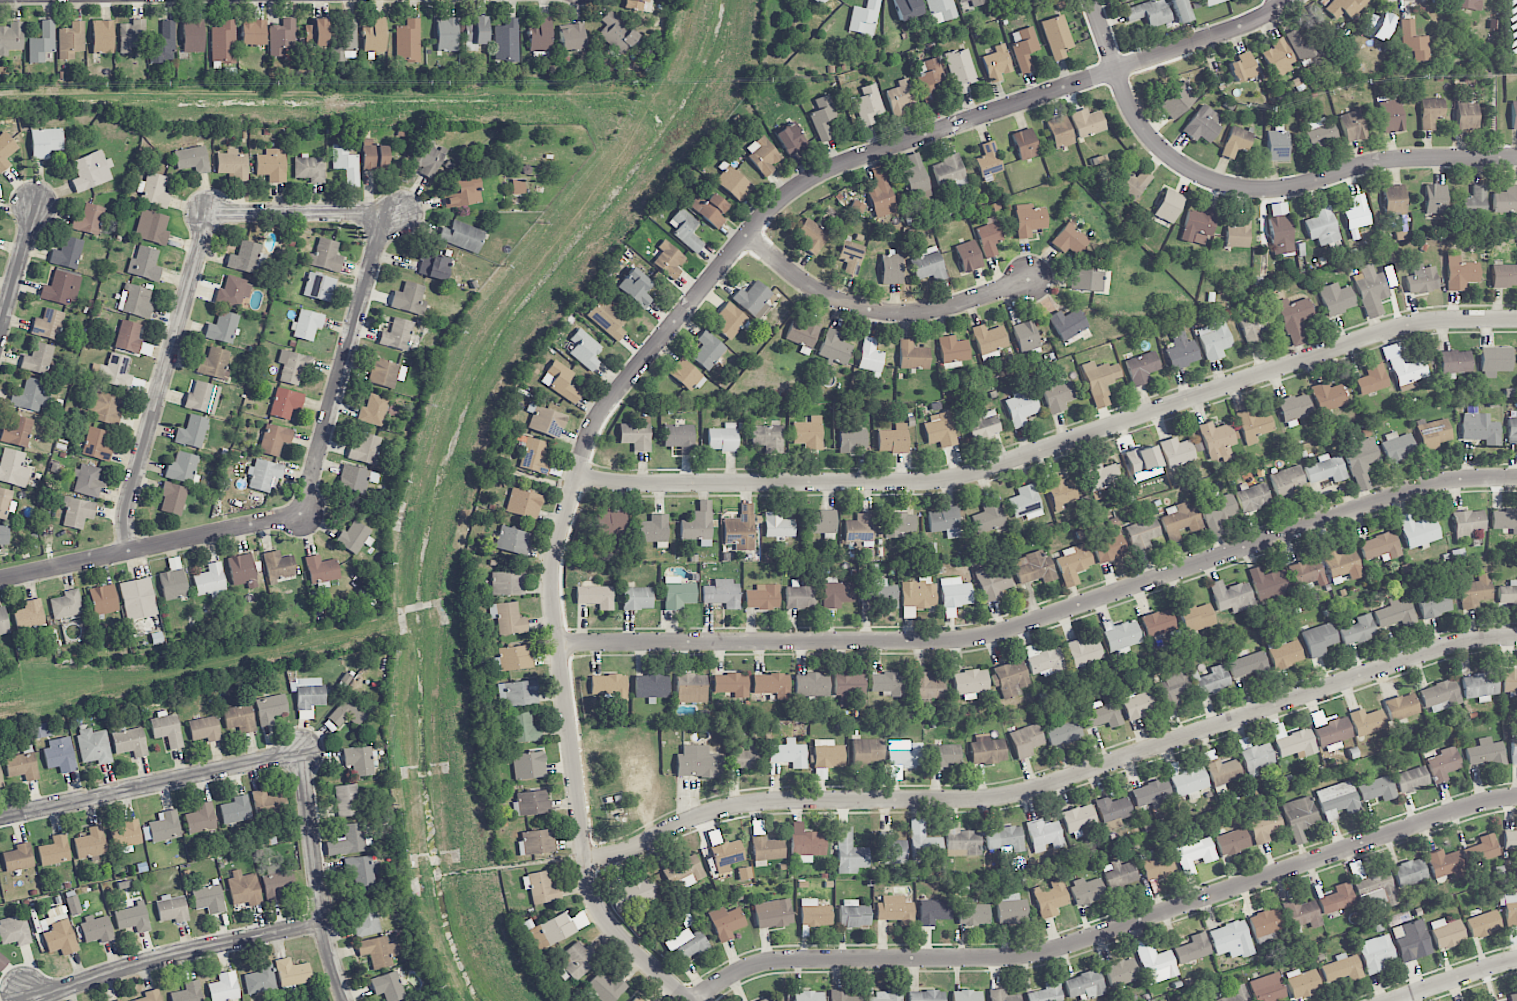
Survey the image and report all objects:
building: (1123, 0)
building: (817, 1)
building: (1212, 2)
building: (970, 3)
building: (634, 4)
road: (1280, 4)
building: (1466, 4)
building: (1345, 7)
building: (907, 9)
building: (940, 10)
building: (1180, 11)
building: (1148, 14)
building: (864, 20)
building: (1377, 25)
building: (316, 32)
building: (253, 33)
building: (475, 33)
building: (616, 33)
building: (446, 34)
building: (131, 35)
building: (192, 35)
building: (540, 35)
building: (374, 36)
building: (1056, 36)
building: (102, 37)
building: (11, 38)
building: (283, 38)
building: (572, 38)
building: (71, 40)
building: (345, 41)
building: (407, 41)
building: (506, 41)
building: (1413, 41)
building: (42, 42)
building: (223, 42)
building: (163, 44)
building: (1024, 48)
building: (1303, 49)
building: (1277, 58)
building: (996, 63)
building: (1242, 67)
building: (960, 70)
building: (929, 79)
building: (900, 98)
building: (1176, 101)
building: (868, 103)
building: (1430, 112)
building: (1514, 114)
building: (1391, 116)
building: (1466, 116)
building: (822, 117)
building: (1086, 122)
building: (1202, 124)
building: (1352, 126)
building: (1059, 132)
building: (1319, 132)
building: (790, 139)
building: (45, 142)
building: (1235, 142)
building: (1024, 144)
building: (1277, 146)
building: (6, 150)
building: (762, 155)
building: (373, 156)
building: (428, 158)
building: (192, 159)
building: (988, 161)
building: (233, 164)
building: (272, 165)
building: (346, 165)
building: (309, 168)
building: (90, 171)
building: (914, 173)
building: (733, 183)
building: (1133, 183)
building: (517, 186)
building: (153, 190)
road: (1252, 190)
building: (463, 193)
building: (881, 194)
building: (1434, 199)
building: (1393, 200)
building: (1505, 200)
building: (1474, 202)
building: (1168, 206)
building: (709, 209)
road: (297, 213)
building: (1356, 213)
building: (87, 219)
building: (1028, 219)
building: (1198, 225)
building: (1321, 226)
building: (153, 227)
building: (685, 229)
building: (1238, 233)
building: (1280, 234)
building: (812, 235)
building: (461, 236)
building: (989, 237)
building: (1070, 240)
building: (67, 253)
building: (325, 256)
building: (968, 256)
building: (244, 257)
building: (850, 257)
building: (667, 260)
building: (144, 263)
building: (928, 264)
building: (433, 266)
road: (18, 269)
building: (891, 269)
building: (1459, 273)
building: (1504, 276)
building: (1085, 280)
building: (1422, 280)
building: (319, 287)
building: (60, 288)
building: (634, 288)
building: (1370, 290)
building: (232, 291)
building: (1336, 298)
building: (409, 299)
building: (753, 299)
building: (135, 301)
road: (690, 304)
road: (879, 310)
building: (606, 318)
building: (1294, 319)
building: (730, 321)
building: (1067, 323)
building: (48, 324)
building: (306, 324)
building: (1253, 324)
building: (222, 327)
building: (802, 333)
building: (397, 334)
building: (128, 336)
building: (1025, 336)
building: (1214, 338)
building: (989, 340)
building: (834, 347)
building: (584, 349)
building: (708, 350)
building: (953, 350)
building: (1181, 351)
building: (912, 356)
building: (869, 357)
building: (38, 359)
building: (1454, 361)
building: (1494, 361)
building: (213, 364)
road: (344, 364)
building: (293, 366)
building: (1142, 367)
building: (1407, 368)
building: (112, 371)
building: (385, 373)
building: (686, 375)
building: (1372, 379)
building: (560, 381)
building: (1100, 381)
road: (161, 382)
building: (28, 395)
building: (1327, 396)
building: (202, 397)
building: (285, 403)
building: (104, 407)
building: (1021, 408)
building: (1293, 409)
building: (374, 410)
building: (546, 422)
building: (982, 425)
building: (1253, 425)
building: (1479, 428)
building: (940, 431)
building: (1512, 431)
building: (17, 432)
building: (192, 432)
building: (808, 433)
building: (636, 434)
building: (1432, 434)
building: (766, 435)
building: (679, 437)
building: (722, 438)
building: (274, 439)
building: (892, 439)
building: (851, 441)
building: (1216, 441)
building: (96, 445)
road: (1053, 446)
building: (1397, 446)
building: (364, 449)
building: (1176, 452)
building: (534, 455)
building: (1360, 458)
building: (1142, 463)
building: (13, 468)
building: (182, 468)
building: (1326, 469)
building: (263, 475)
building: (1100, 475)
building: (356, 478)
building: (87, 481)
building: (1288, 482)
building: (1060, 491)
building: (1253, 496)
building: (172, 498)
building: (4, 502)
building: (523, 503)
building: (1218, 511)
building: (77, 513)
building: (988, 517)
building: (1504, 520)
building: (1181, 521)
building: (820, 522)
building: (944, 522)
building: (611, 525)
building: (777, 525)
building: (899, 525)
building: (698, 526)
building: (740, 528)
building: (860, 528)
building: (654, 530)
building: (1418, 531)
building: (1142, 533)
building: (3, 536)
building: (354, 538)
building: (512, 540)
building: (1380, 546)
road: (151, 548)
building: (1109, 548)
building: (1073, 563)
building: (1339, 564)
building: (280, 565)
building: (1033, 568)
building: (242, 571)
building: (321, 571)
building: (1307, 573)
building: (210, 581)
building: (993, 582)
building: (507, 583)
building: (172, 584)
building: (1268, 584)
building: (955, 592)
building: (1475, 592)
building: (678, 593)
building: (836, 593)
building: (878, 593)
building: (918, 593)
building: (1508, 593)
building: (722, 594)
building: (595, 596)
building: (799, 596)
building: (1231, 596)
building: (762, 597)
building: (637, 598)
building: (137, 599)
building: (103, 600)
building: (1433, 602)
building: (66, 604)
building: (1395, 613)
building: (30, 614)
building: (1195, 616)
road: (1047, 617)
building: (507, 618)
building: (3, 622)
building: (1157, 623)
building: (1357, 630)
building: (1121, 636)
building: (1319, 639)
building: (1084, 651)
building: (1284, 653)
building: (512, 658)
building: (1249, 665)
building: (1010, 678)
building: (1213, 680)
building: (1509, 681)
building: (887, 683)
building: (969, 683)
building: (731, 684)
building: (849, 684)
building: (771, 685)
building: (811, 685)
building: (651, 686)
building: (926, 686)
building: (1479, 686)
building: (608, 688)
building: (691, 688)
building: (1173, 688)
building: (309, 693)
building: (518, 693)
building: (1440, 696)
building: (1138, 704)
building: (1401, 707)
building: (270, 709)
building: (349, 711)
building: (1102, 715)
building: (239, 718)
building: (1366, 722)
building: (522, 727)
building: (204, 728)
building: (167, 729)
building: (1064, 731)
building: (1332, 731)
building: (1025, 740)
building: (130, 742)
building: (1293, 742)
building: (94, 746)
building: (1513, 746)
building: (986, 750)
building: (789, 752)
building: (867, 752)
building: (1486, 753)
building: (60, 755)
building: (945, 755)
building: (906, 756)
building: (827, 757)
building: (745, 758)
building: (1256, 758)
building: (358, 760)
building: (697, 762)
building: (1443, 764)
building: (528, 765)
building: (1223, 772)
building: (0, 779)
building: (1186, 779)
building: (1411, 780)
road: (1055, 783)
road: (152, 785)
building: (1377, 789)
building: (1152, 794)
building: (346, 800)
building: (1337, 800)
building: (533, 802)
building: (267, 804)
building: (1112, 809)
building: (235, 810)
building: (1300, 817)
building: (200, 818)
building: (1079, 818)
building: (1264, 826)
building: (162, 827)
building: (126, 834)
building: (1045, 835)
building: (352, 839)
building: (1005, 839)
building: (1510, 839)
building: (961, 841)
building: (538, 842)
building: (924, 842)
building: (1232, 842)
building: (90, 843)
building: (806, 843)
building: (766, 848)
building: (891, 849)
building: (1483, 849)
building: (54, 851)
building: (849, 853)
building: (1193, 853)
building: (726, 855)
building: (18, 857)
building: (1445, 864)
building: (1156, 865)
building: (362, 870)
building: (684, 872)
building: (1409, 872)
building: (1119, 875)
road: (319, 877)
building: (276, 883)
building: (1377, 886)
building: (540, 887)
building: (244, 888)
building: (641, 890)
building: (1086, 891)
building: (1050, 898)
building: (208, 899)
building: (1337, 899)
building: (73, 905)
building: (1011, 908)
building: (1509, 908)
building: (172, 909)
building: (894, 909)
building: (934, 911)
building: (773, 913)
building: (814, 913)
building: (853, 914)
building: (973, 914)
building: (1301, 914)
building: (132, 918)
building: (365, 920)
building: (726, 923)
building: (1482, 923)
building: (1266, 924)
building: (557, 928)
building: (96, 929)
building: (14, 931)
road: (1111, 932)
building: (1447, 933)
building: (60, 938)
building: (1231, 940)
building: (1411, 940)
building: (686, 945)
building: (1192, 949)
building: (377, 951)
road: (172, 953)
building: (1376, 953)
building: (576, 960)
building: (2, 962)
building: (1155, 963)
building: (1342, 969)
building: (1121, 972)
road: (657, 973)
building: (291, 975)
road: (1453, 978)
building: (260, 980)
building: (1303, 983)
building: (1085, 985)
building: (387, 986)
building: (604, 986)
building: (224, 987)
building: (1267, 988)
building: (188, 992)
building: (1047, 993)
building: (1236, 994)
building: (967, 995)
building: (150, 996)
building: (808, 996)
building: (842, 996)
building: (884, 996)
building: (926, 996)
building: (1003, 996)
building: (1513, 997)
building: (637, 998)
building: (769, 999)
building: (119, 1000)

